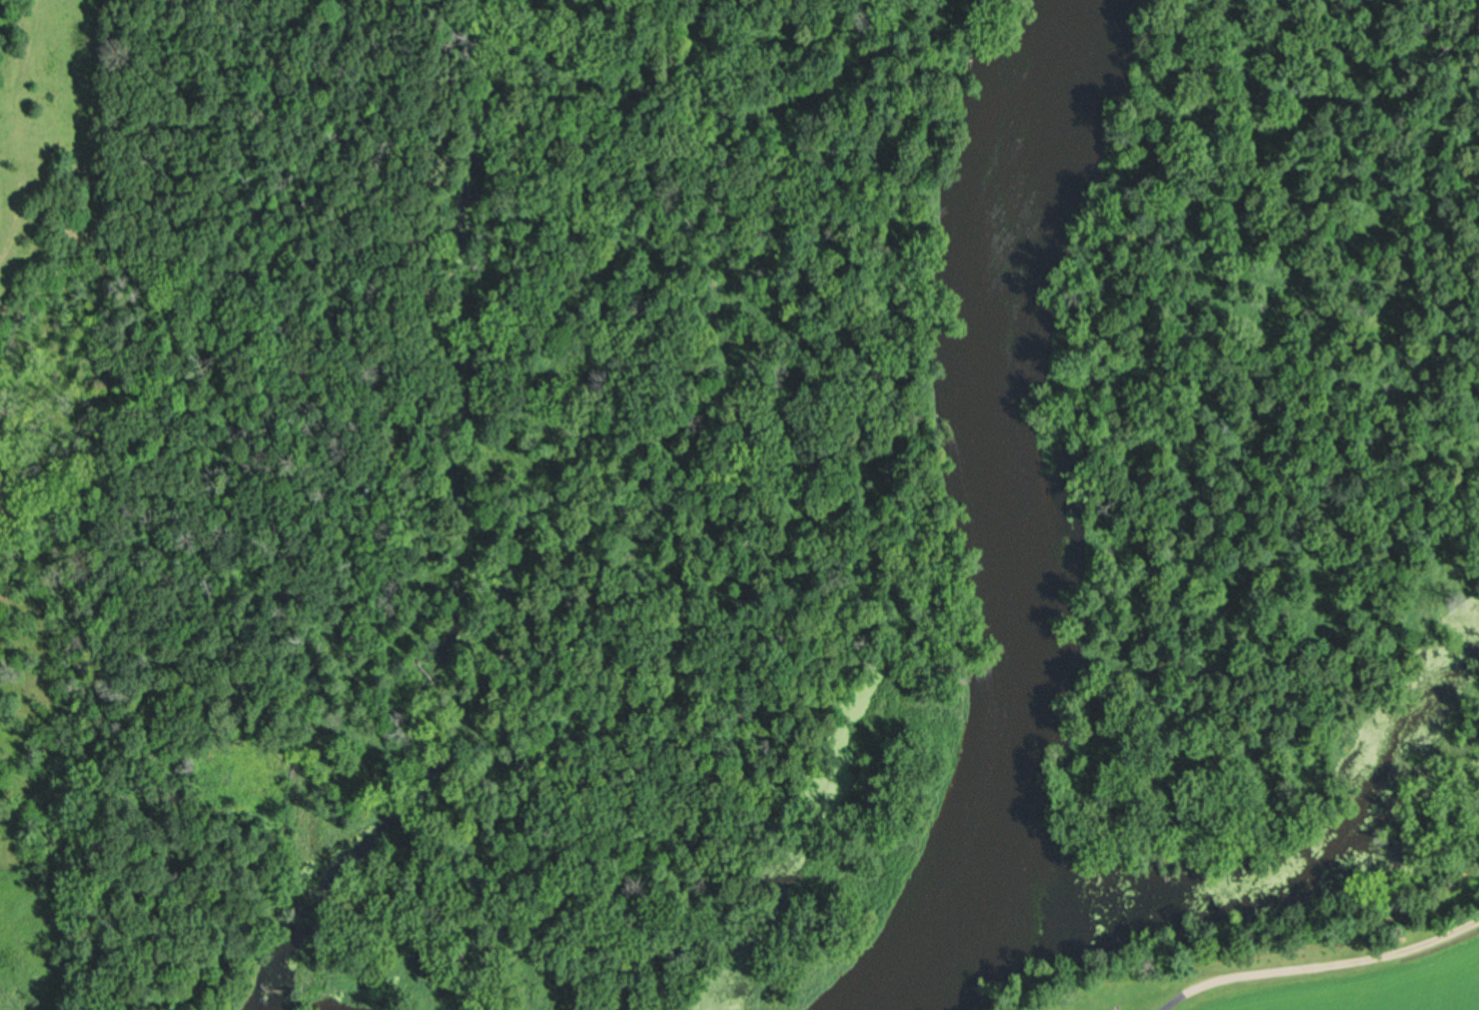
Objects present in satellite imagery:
river: (1015, 510)
road: (1317, 963)
crop: (1356, 981)

